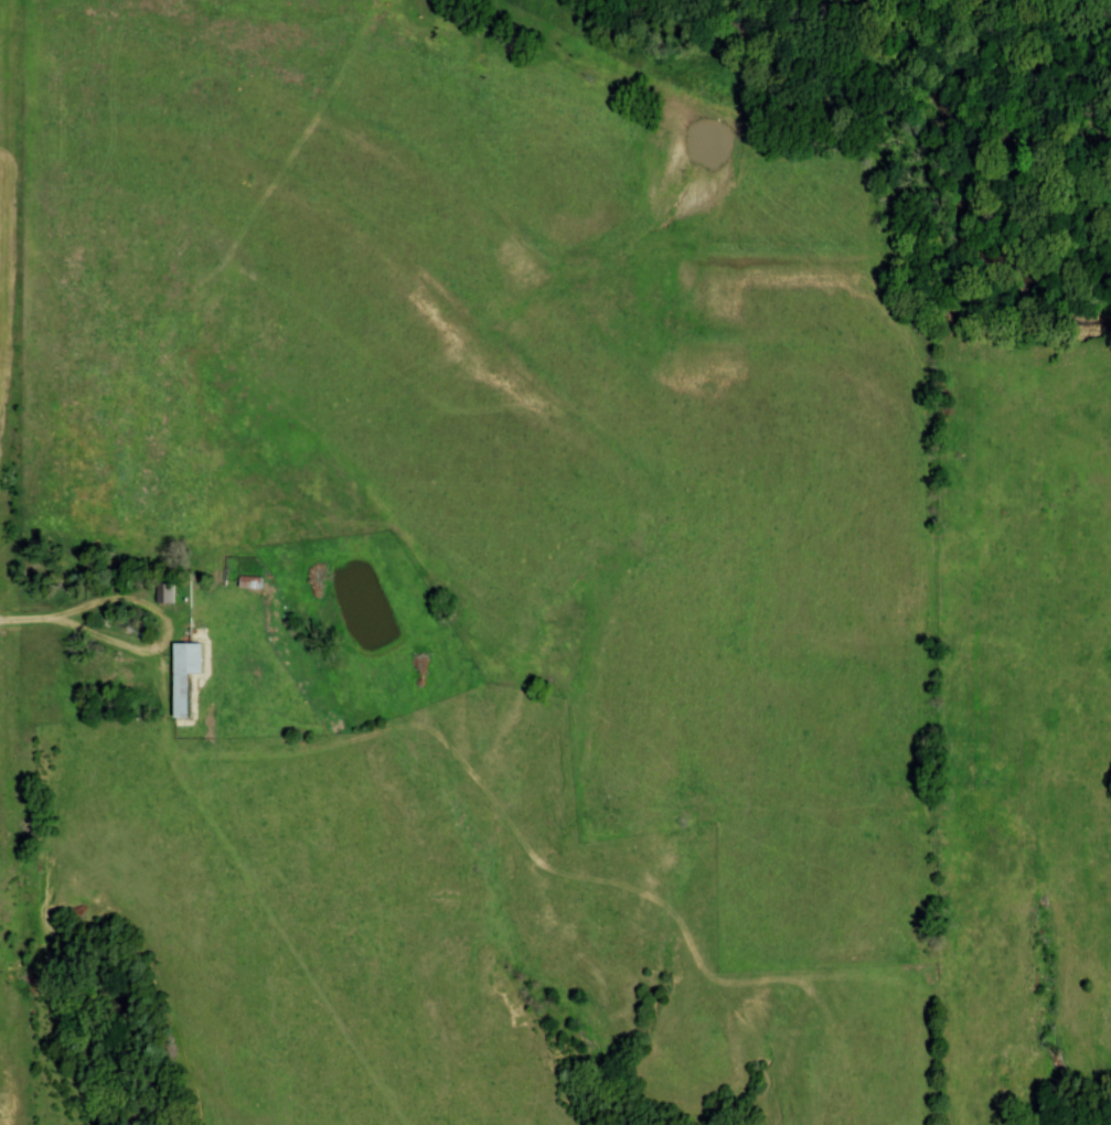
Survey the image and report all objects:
building: (163, 593)
road: (135, 604)
road: (32, 622)
building: (185, 675)

